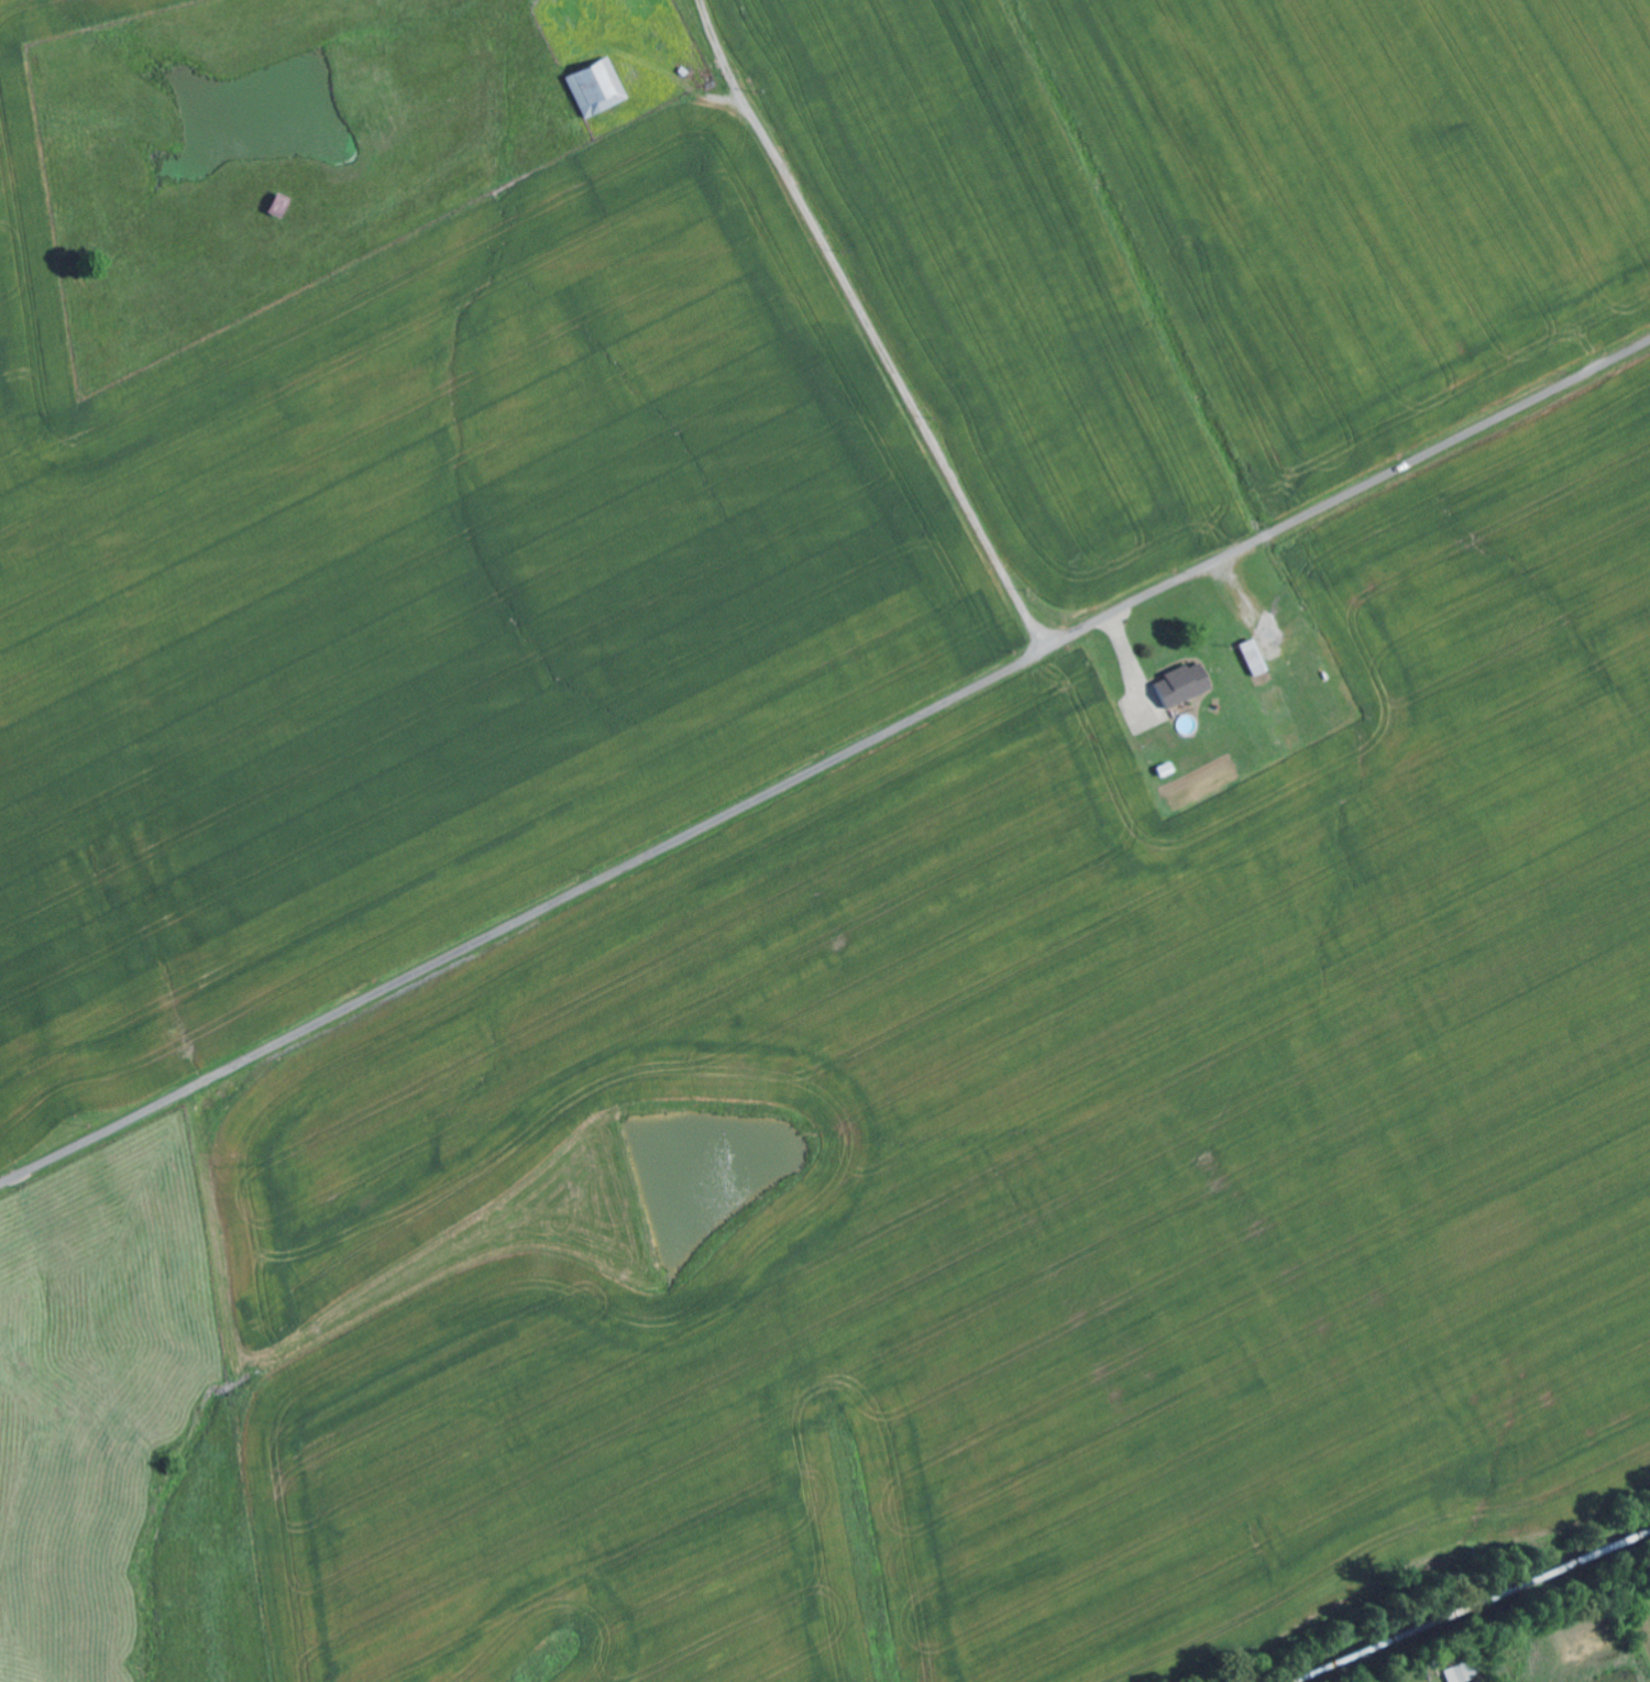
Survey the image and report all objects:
building: (597, 87)
road: (876, 382)
building: (1254, 658)
building: (1185, 684)
road: (826, 763)
railway: (1467, 1606)
building: (1462, 1671)

